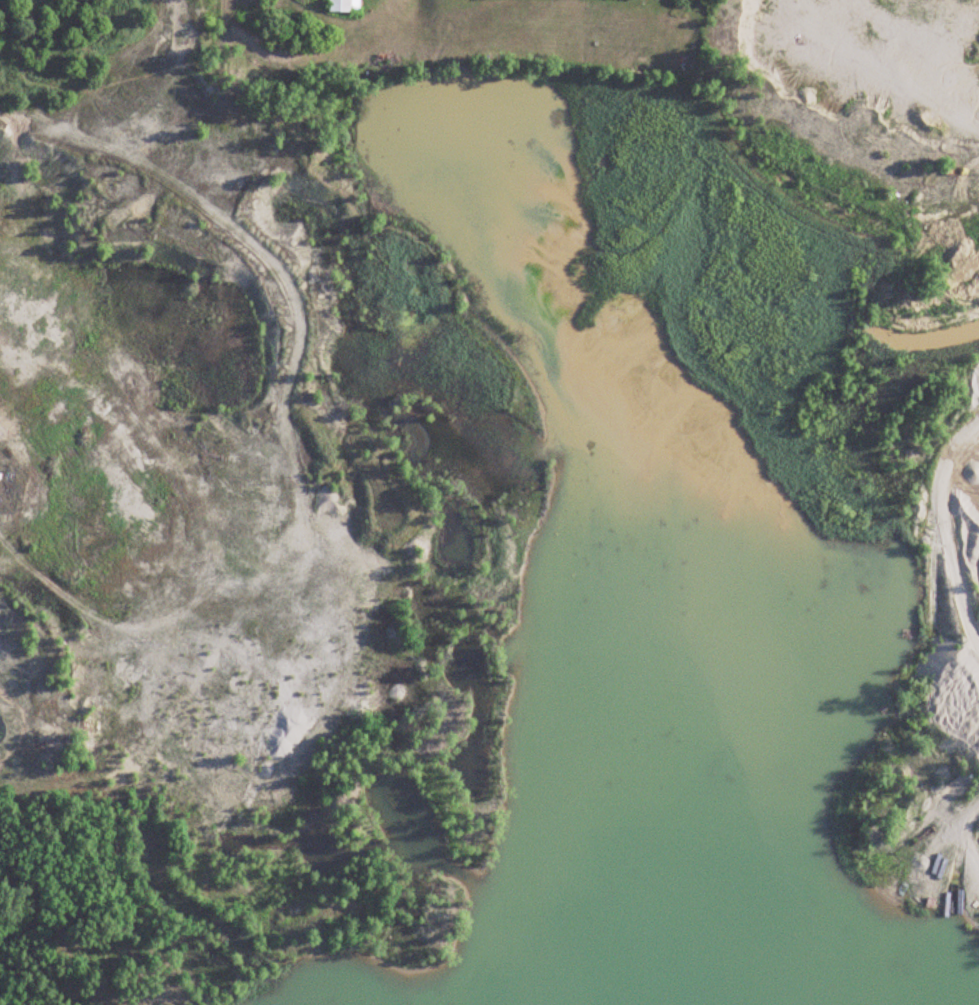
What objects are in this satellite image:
building: (345, 6)
road: (49, 579)

